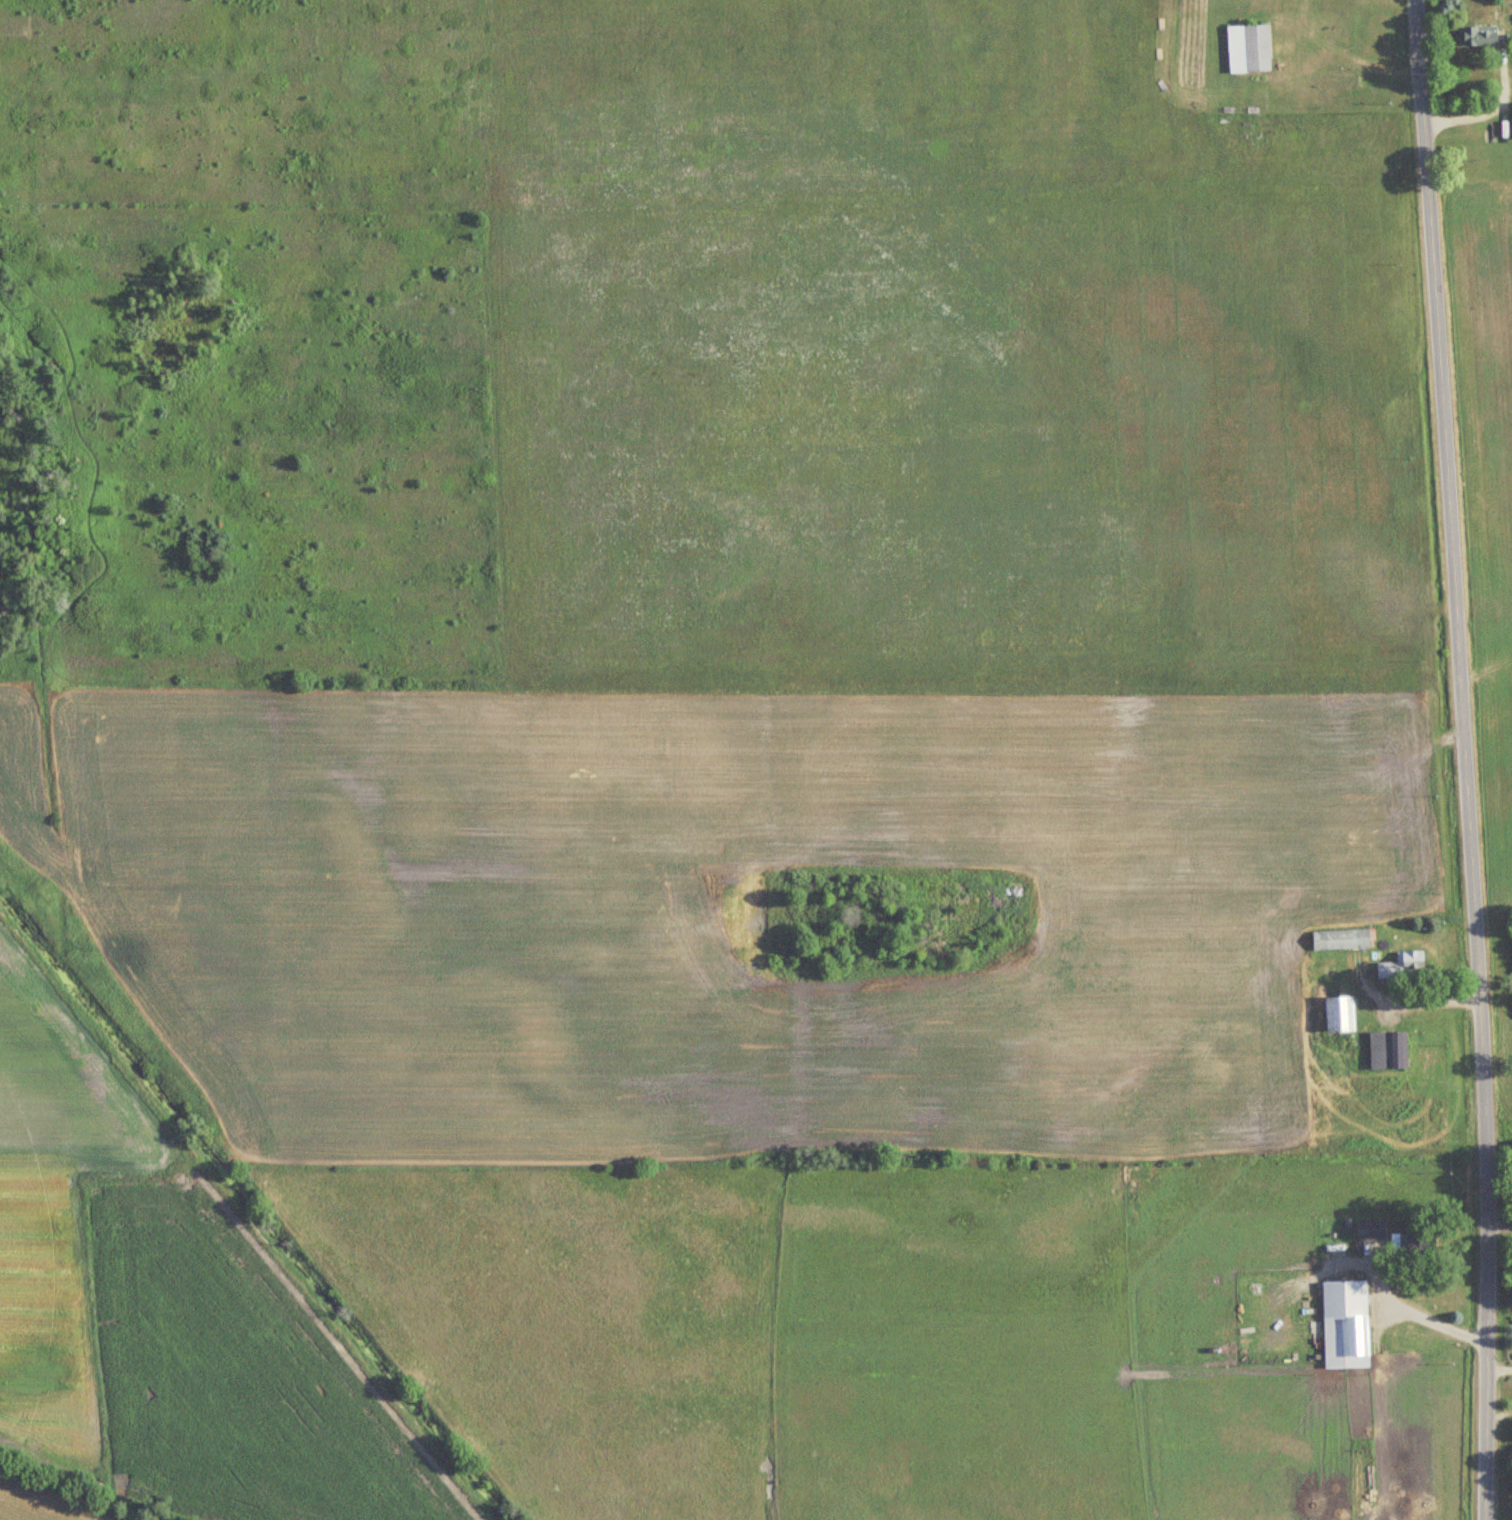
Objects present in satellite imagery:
building: (1478, 36)
building: (1250, 49)
road: (1466, 759)
building: (1343, 940)
building: (1404, 966)
road: (1431, 998)
building: (1341, 1013)
building: (1389, 1050)
road: (1499, 1227)
building: (1372, 1231)
building: (1413, 1243)
road: (1432, 1318)
building: (1346, 1324)
road: (1499, 1364)
road: (1499, 1415)

